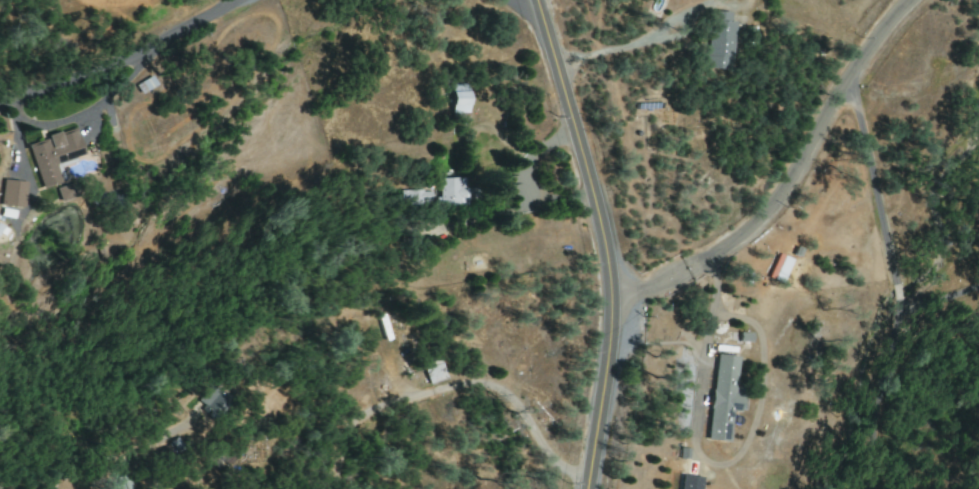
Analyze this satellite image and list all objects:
road: (525, 11)
building: (718, 41)
road: (876, 42)
road: (613, 49)
road: (120, 61)
building: (457, 98)
road: (79, 114)
building: (52, 155)
road: (522, 181)
road: (779, 190)
building: (451, 191)
building: (12, 193)
building: (415, 197)
road: (602, 241)
building: (778, 268)
road: (891, 283)
road: (648, 288)
road: (938, 301)
road: (711, 311)
building: (432, 373)
road: (459, 386)
building: (721, 396)
building: (213, 400)
building: (122, 482)

